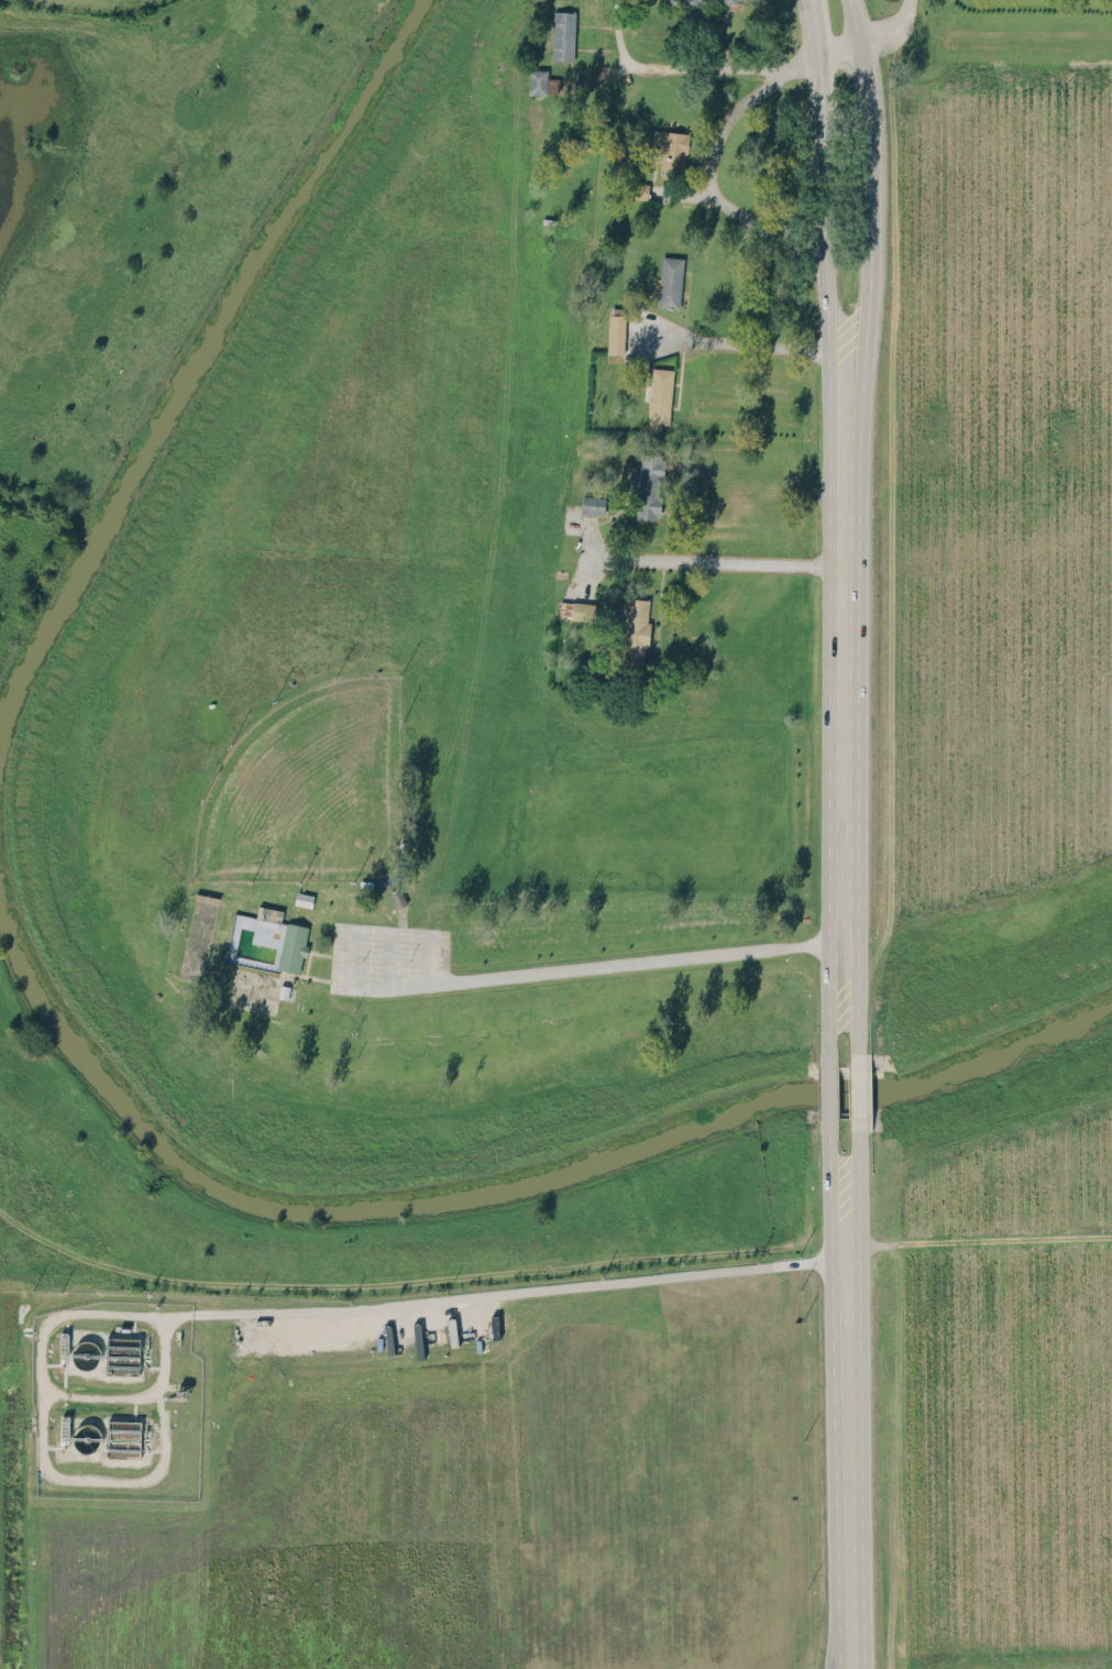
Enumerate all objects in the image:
building: (706, 2)
road: (856, 21)
road: (816, 26)
road: (893, 30)
road: (629, 34)
building: (563, 35)
road: (841, 48)
road: (728, 74)
road: (605, 78)
building: (538, 80)
building: (671, 151)
road: (708, 184)
building: (638, 189)
road: (869, 194)
road: (823, 199)
building: (670, 282)
building: (616, 333)
road: (758, 344)
river: (205, 374)
building: (659, 397)
building: (648, 486)
building: (593, 504)
road: (719, 561)
building: (579, 610)
building: (635, 630)
road: (841, 669)
building: (304, 898)
building: (268, 913)
building: (293, 946)
road: (531, 973)
road: (850, 1018)
road: (836, 1019)
river: (944, 1073)
road: (857, 1091)
road: (828, 1092)
road: (836, 1163)
road: (850, 1163)
river: (302, 1203)
road: (978, 1240)
road: (231, 1309)
building: (123, 1353)
crop: (1006, 1394)
road: (98, 1395)
road: (846, 1424)
building: (123, 1438)

